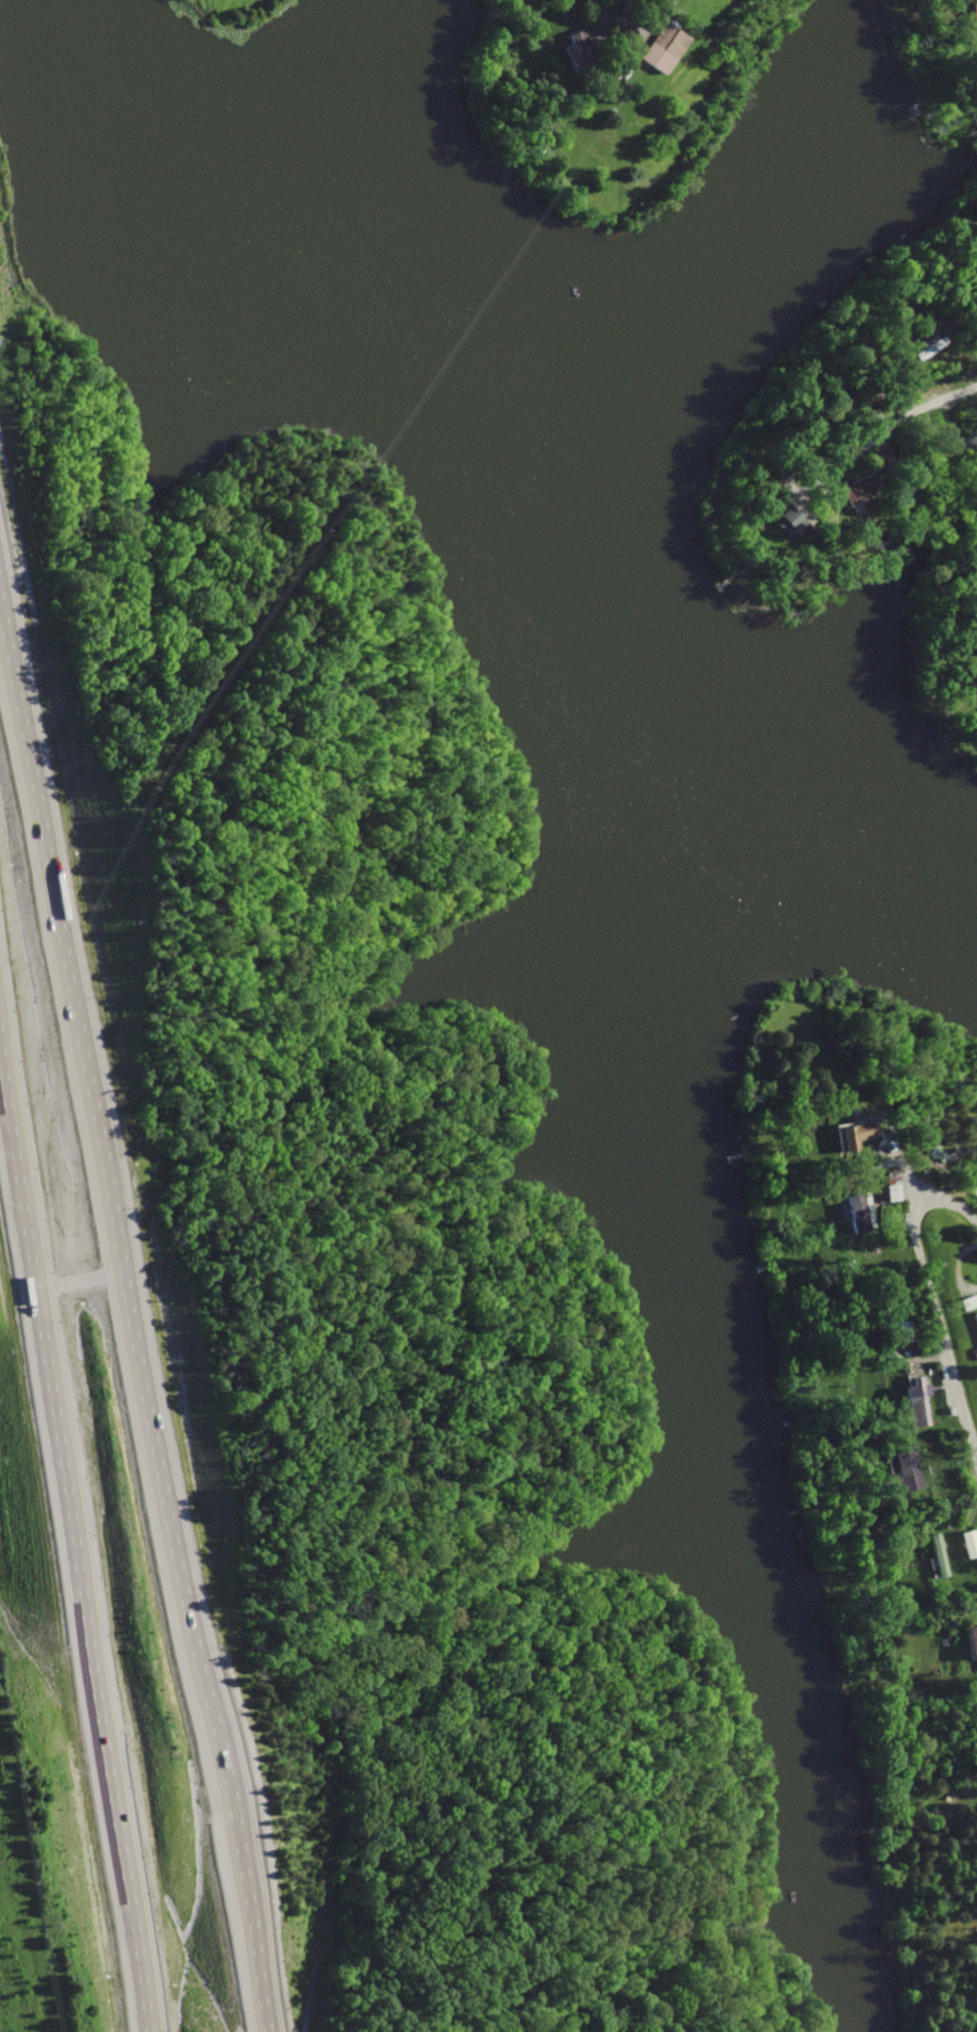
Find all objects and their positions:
building: (973, 10)
road: (644, 30)
building: (573, 46)
building: (656, 47)
road: (890, 427)
building: (881, 456)
building: (853, 490)
building: (785, 520)
building: (853, 1134)
building: (889, 1189)
building: (856, 1211)
road: (79, 1279)
road: (933, 1299)
road: (134, 1308)
building: (974, 1331)
building: (917, 1404)
building: (968, 1544)
road: (71, 1549)
building: (941, 1559)
building: (972, 1641)

